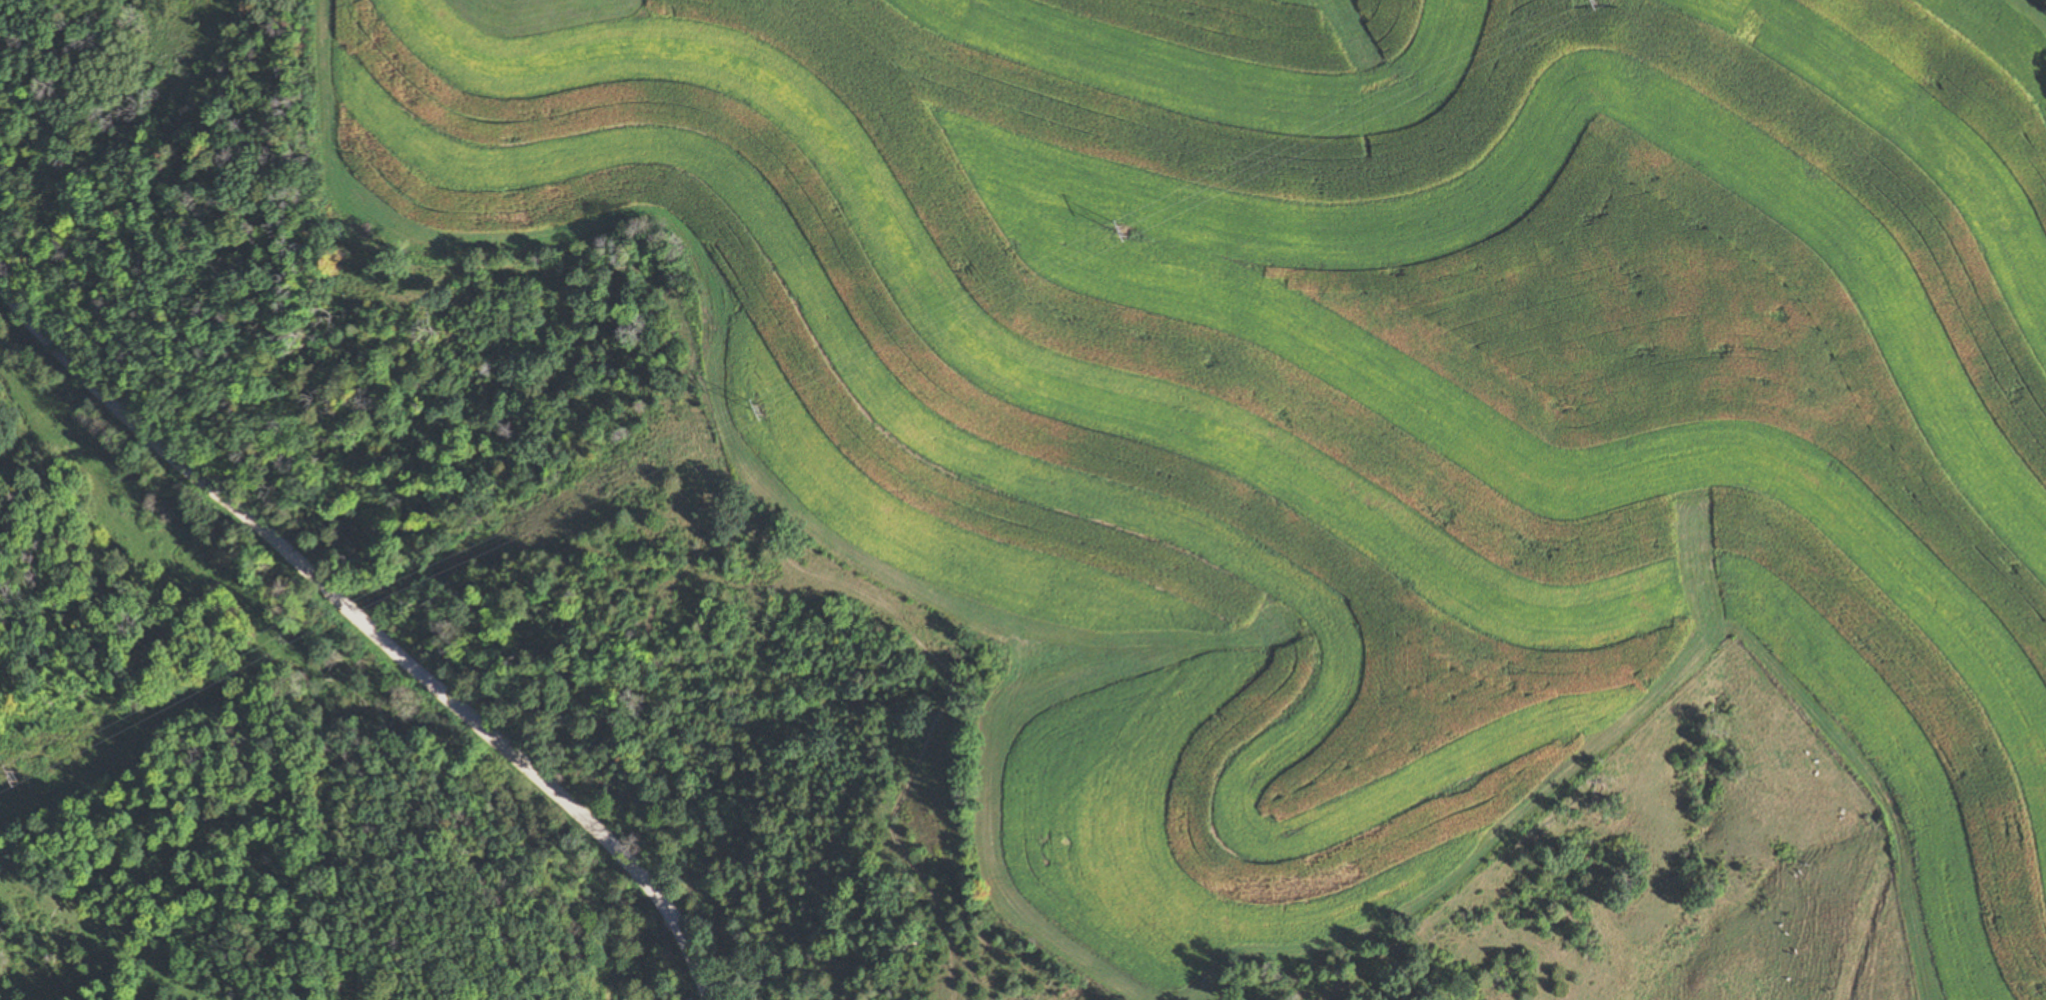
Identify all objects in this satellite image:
power tower: (1592, 0)
power tower: (1123, 230)
crop: (1333, 364)
power tower: (759, 410)
road: (372, 629)
power tower: (19, 776)

